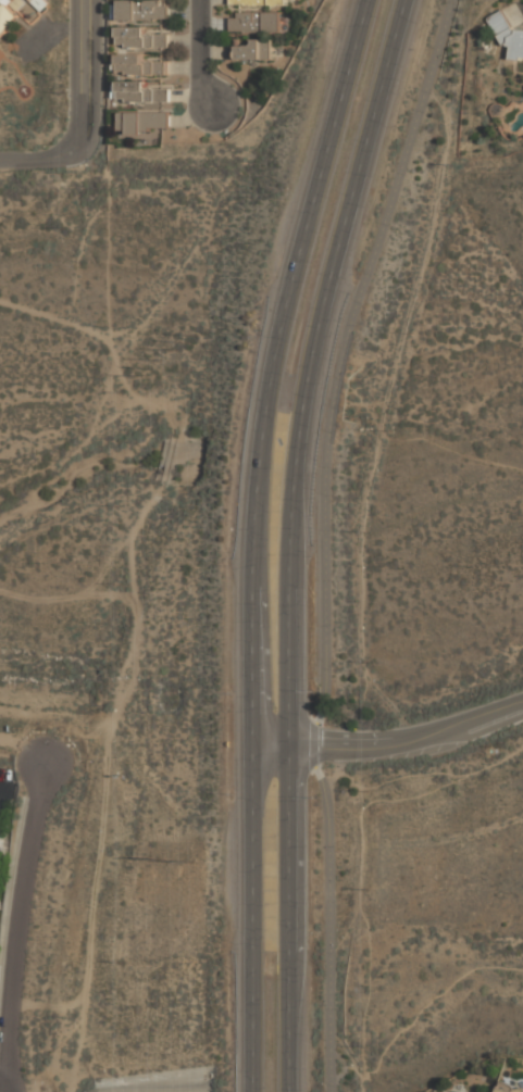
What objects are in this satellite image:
building: (257, 2)
building: (39, 3)
building: (140, 10)
building: (5, 15)
building: (254, 22)
building: (500, 22)
building: (144, 37)
building: (251, 49)
road: (200, 54)
building: (138, 65)
road: (83, 70)
building: (139, 92)
building: (141, 122)
road: (42, 159)
road: (314, 198)
road: (359, 201)
road: (389, 206)
power tower: (183, 349)
power tower: (155, 368)
road: (333, 428)
road: (265, 437)
road: (299, 440)
park: (453, 462)
road: (389, 742)
road: (313, 765)
road: (421, 774)
road: (251, 783)
road: (287, 785)
road: (4, 789)
building: (0, 838)
power tower: (158, 859)
power tower: (189, 862)
road: (15, 926)
road: (416, 1017)
road: (4, 1075)
road: (4, 1079)
road: (36, 1083)
building: (508, 1088)
building: (466, 1091)

